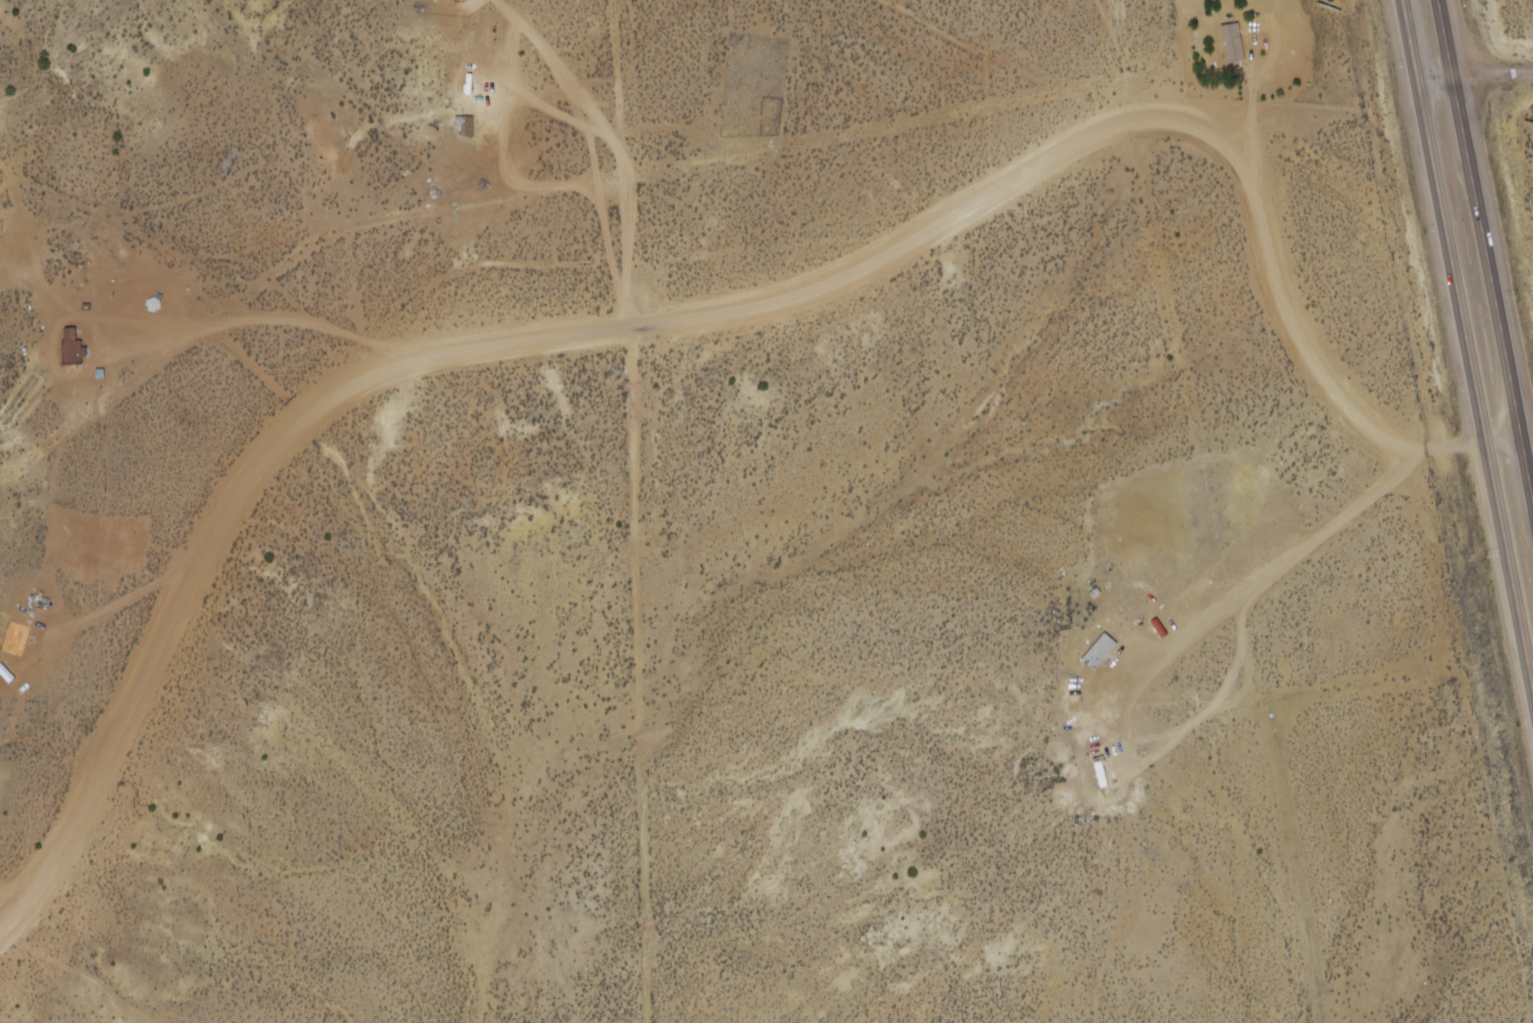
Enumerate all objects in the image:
building: (1234, 40)
road: (1194, 75)
road: (1474, 86)
road: (744, 214)
road: (1486, 229)
road: (717, 298)
road: (1462, 347)
building: (71, 351)
road: (1321, 547)
building: (1100, 651)

